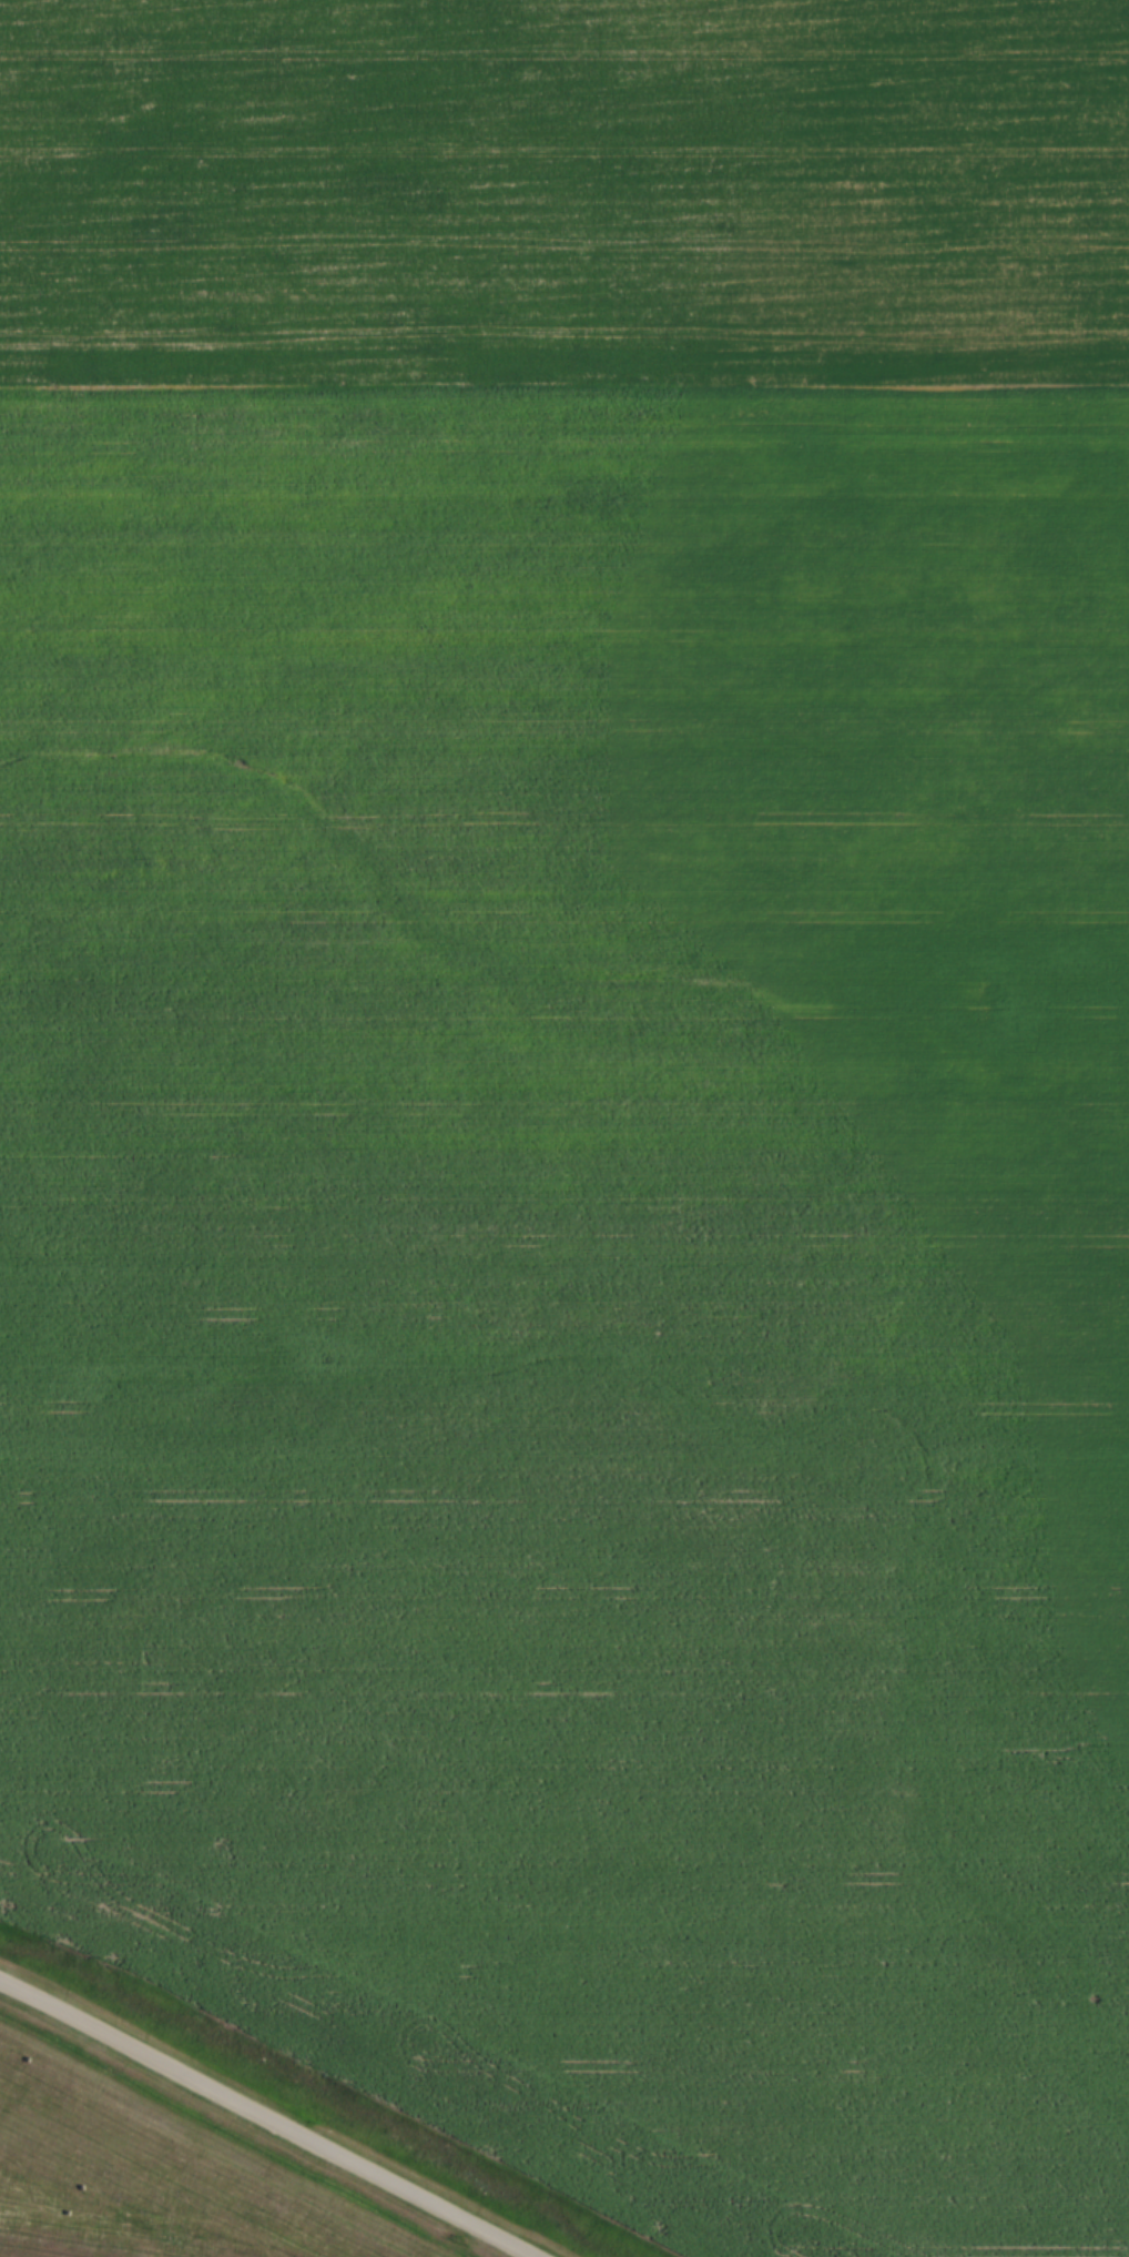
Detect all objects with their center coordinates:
road: (271, 2117)

